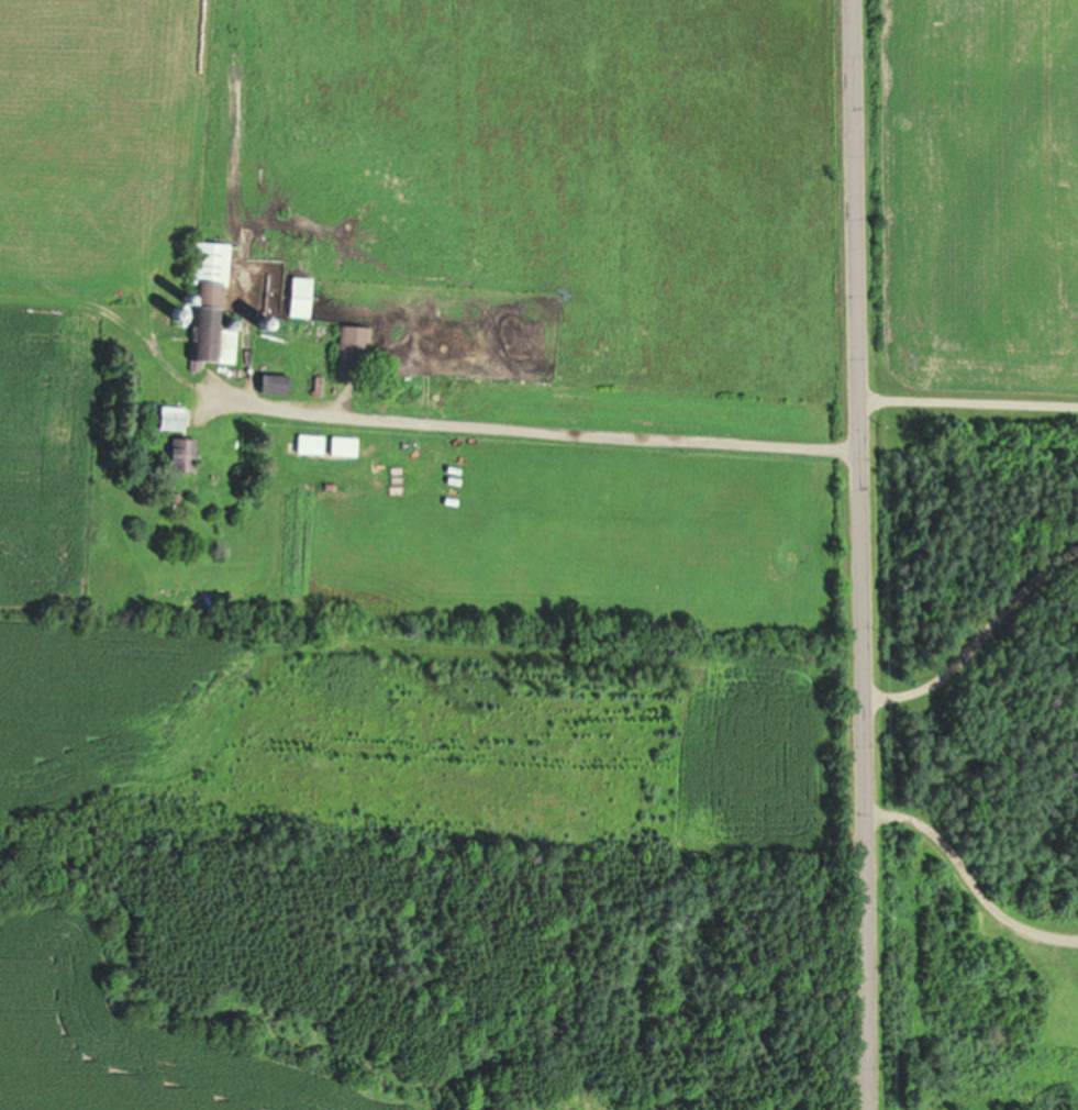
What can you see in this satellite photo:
building: (207, 263)
building: (297, 298)
building: (209, 338)
road: (966, 403)
building: (168, 419)
road: (532, 431)
building: (307, 444)
building: (340, 446)
road: (857, 555)
road: (978, 640)
road: (967, 879)

